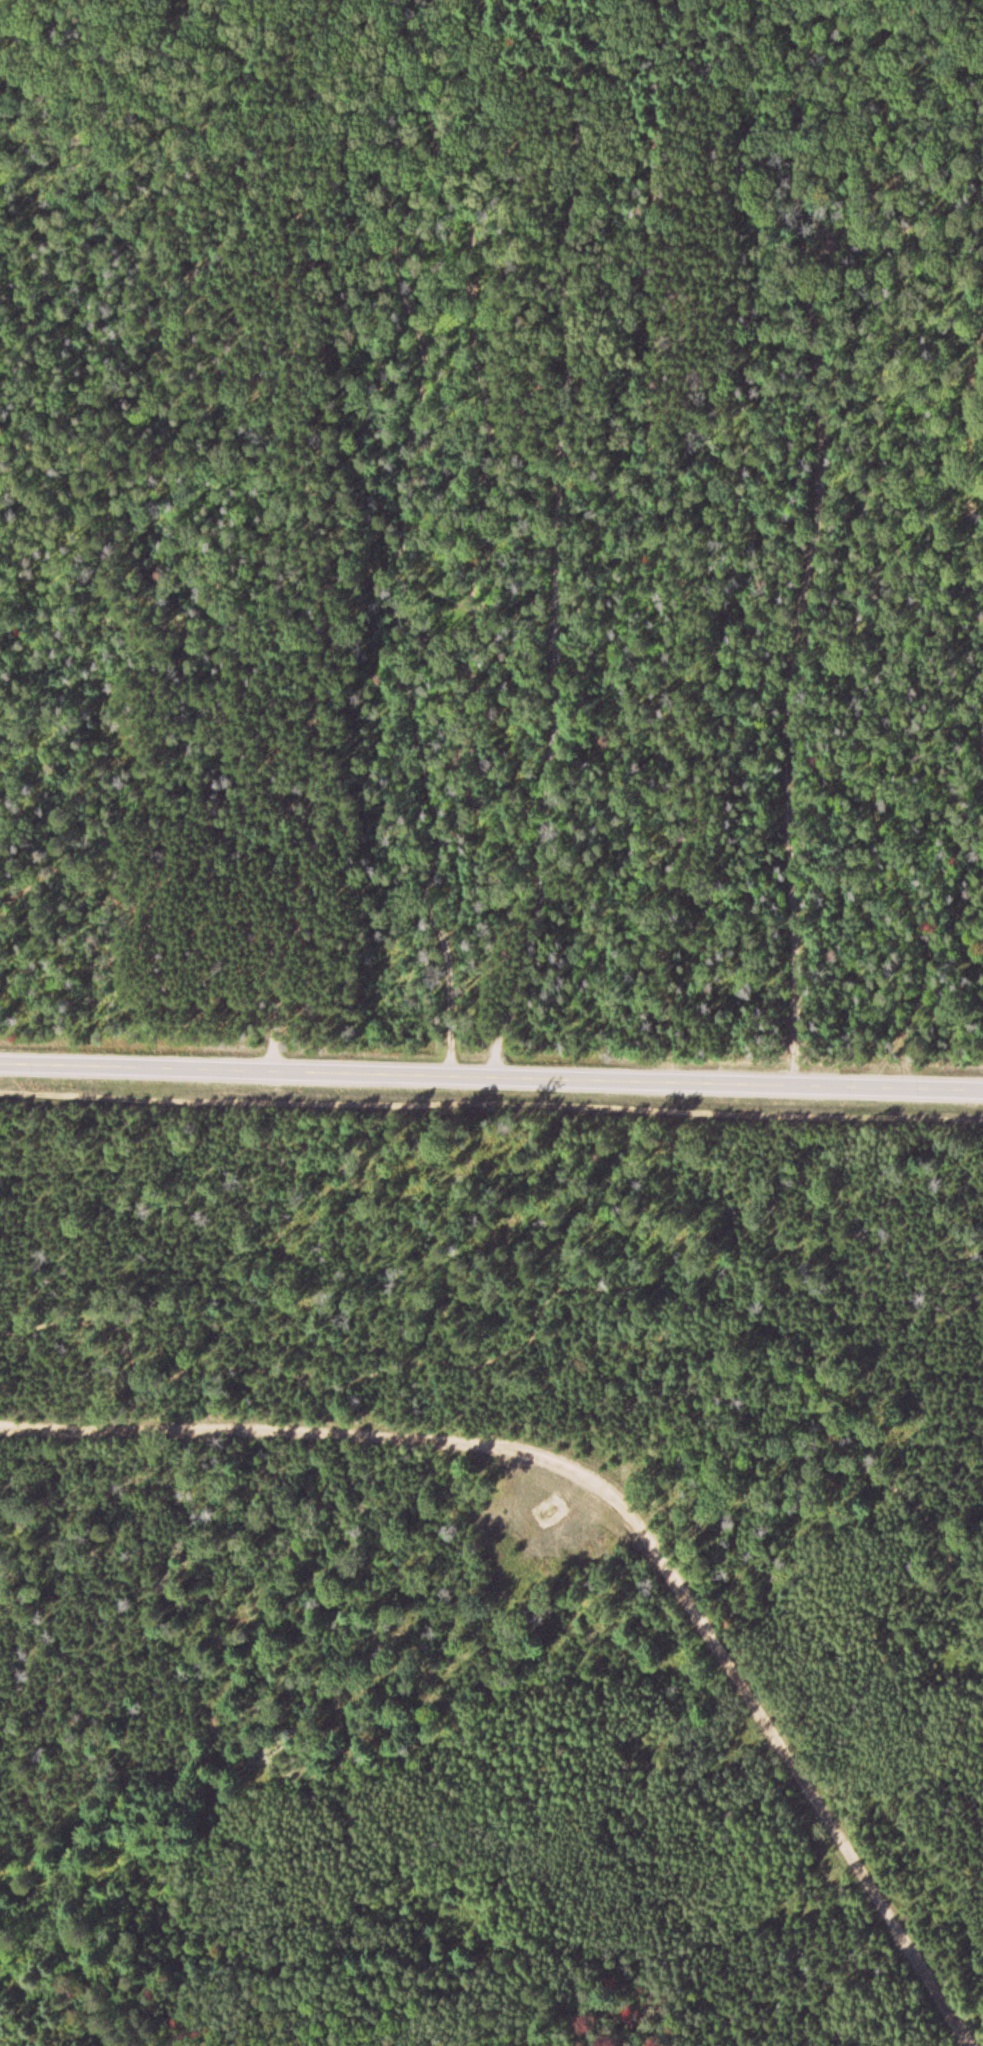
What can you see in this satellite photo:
road: (846, 92)
road: (407, 542)
road: (556, 542)
road: (686, 543)
road: (801, 543)
road: (298, 545)
road: (491, 1082)
road: (491, 1110)
road: (697, 1296)
road: (623, 1507)

